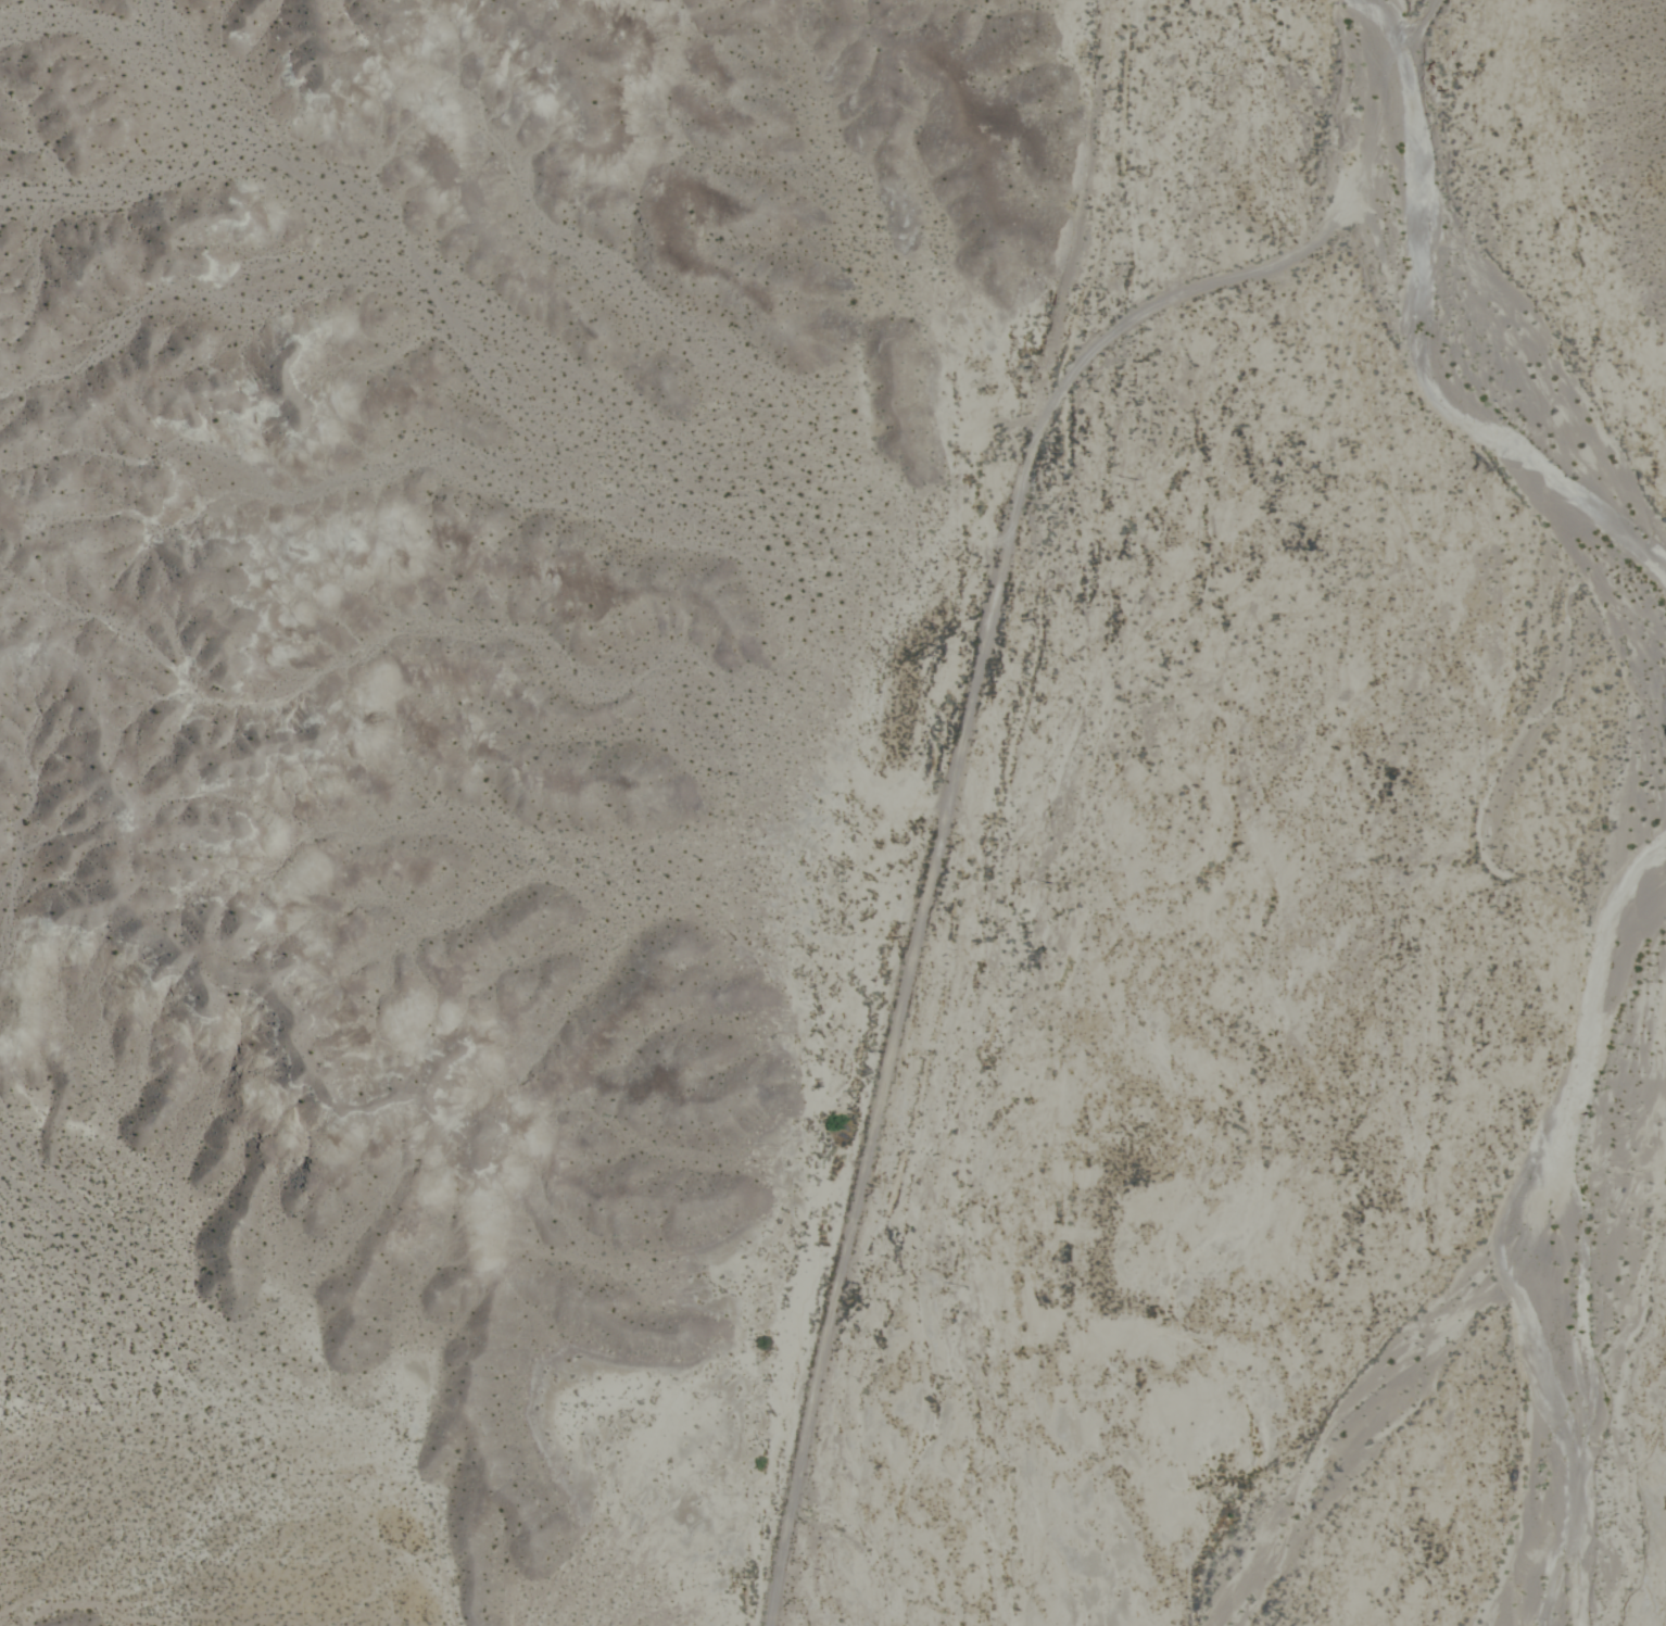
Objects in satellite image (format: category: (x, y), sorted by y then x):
river: (1501, 343)
road: (963, 721)
river: (1488, 1276)

